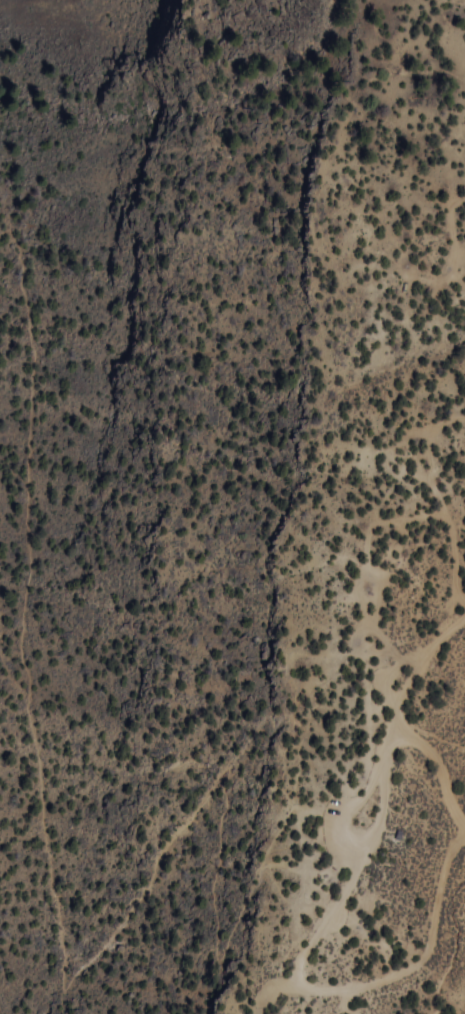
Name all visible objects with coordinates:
road: (378, 263)
road: (52, 829)
road: (454, 875)

